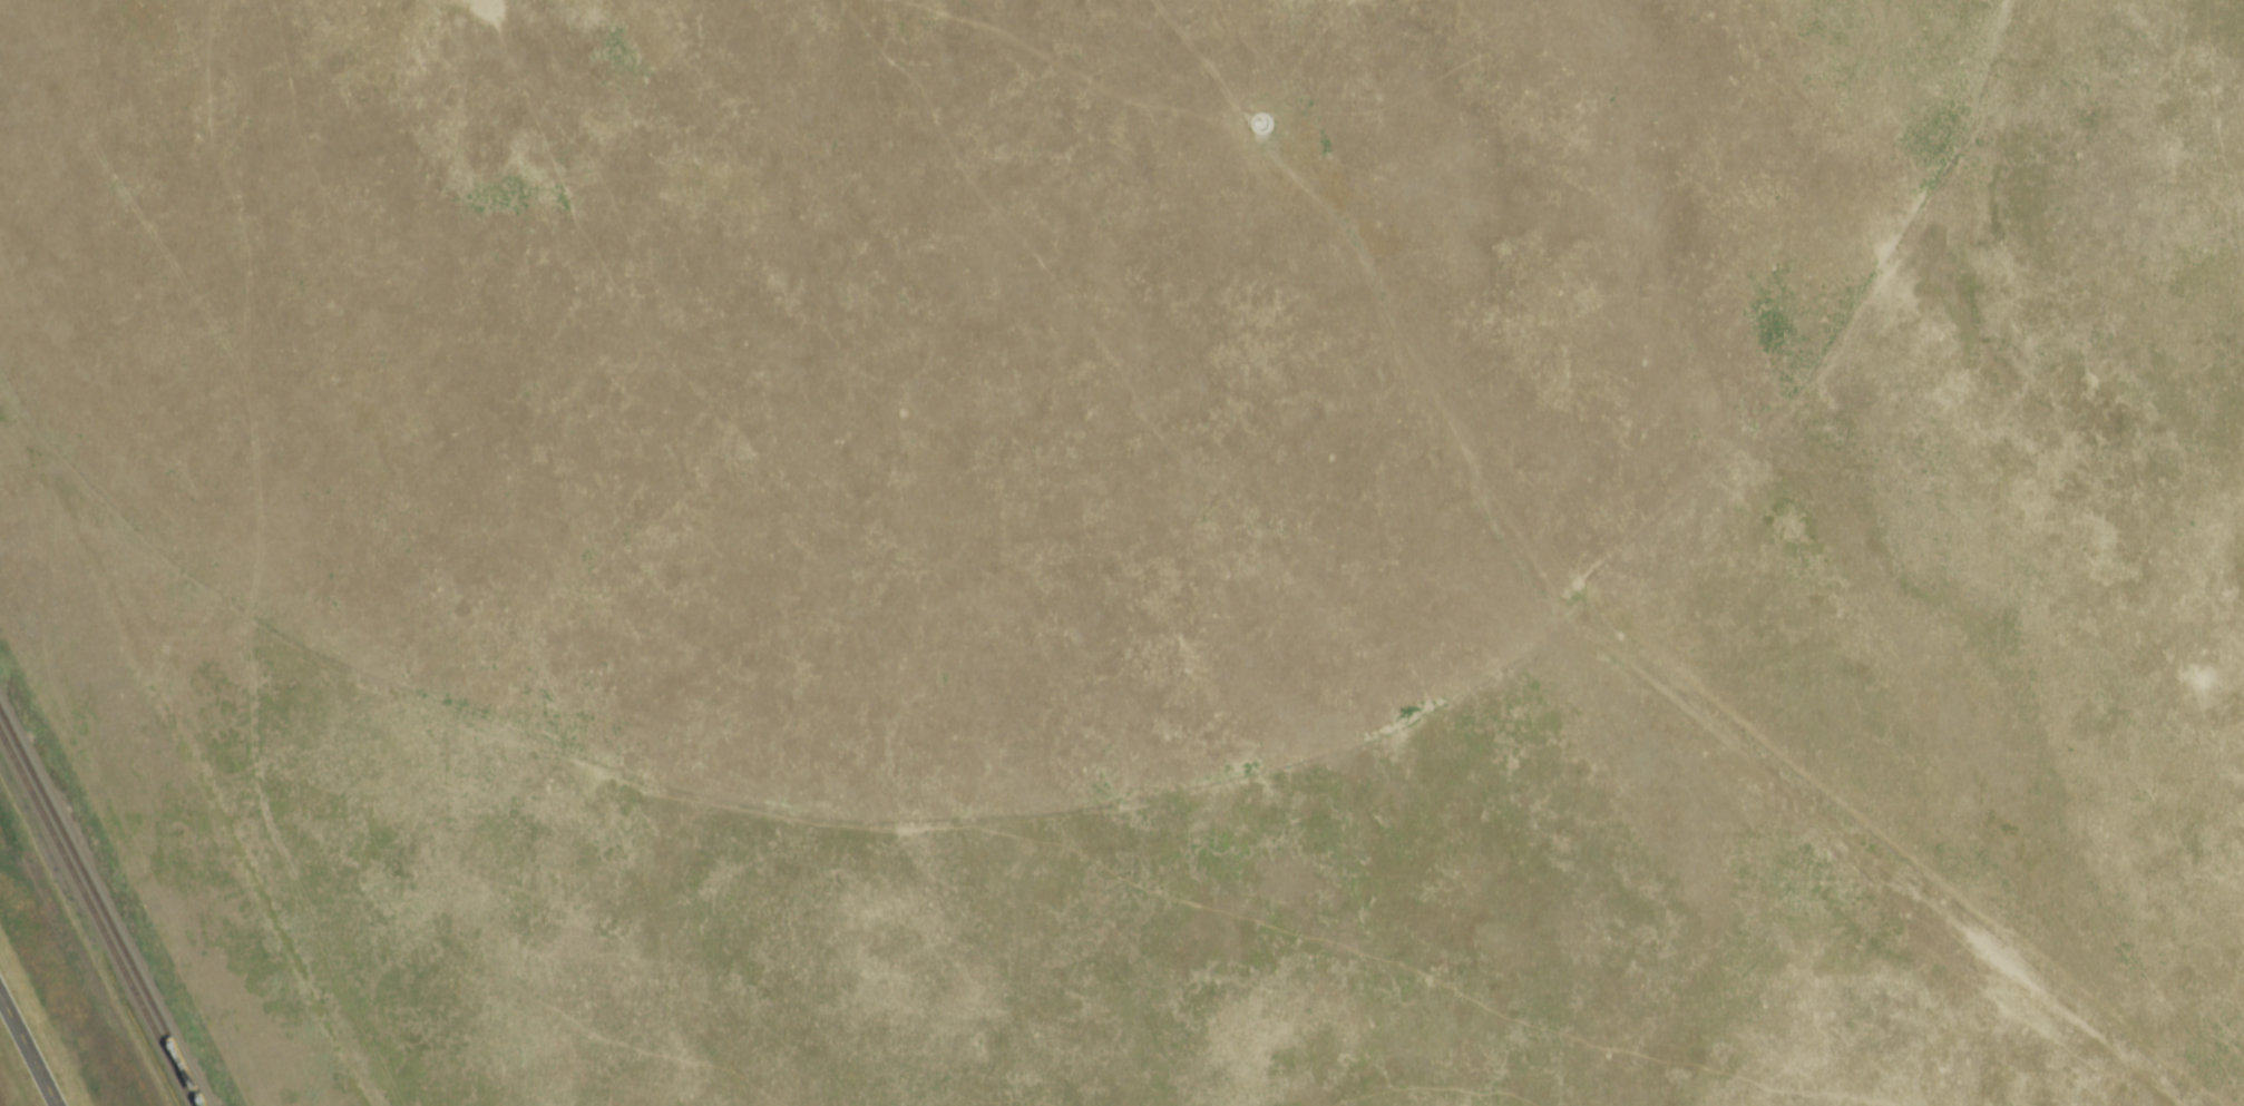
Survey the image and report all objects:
railway: (104, 904)
railway: (97, 917)
road: (29, 1049)

